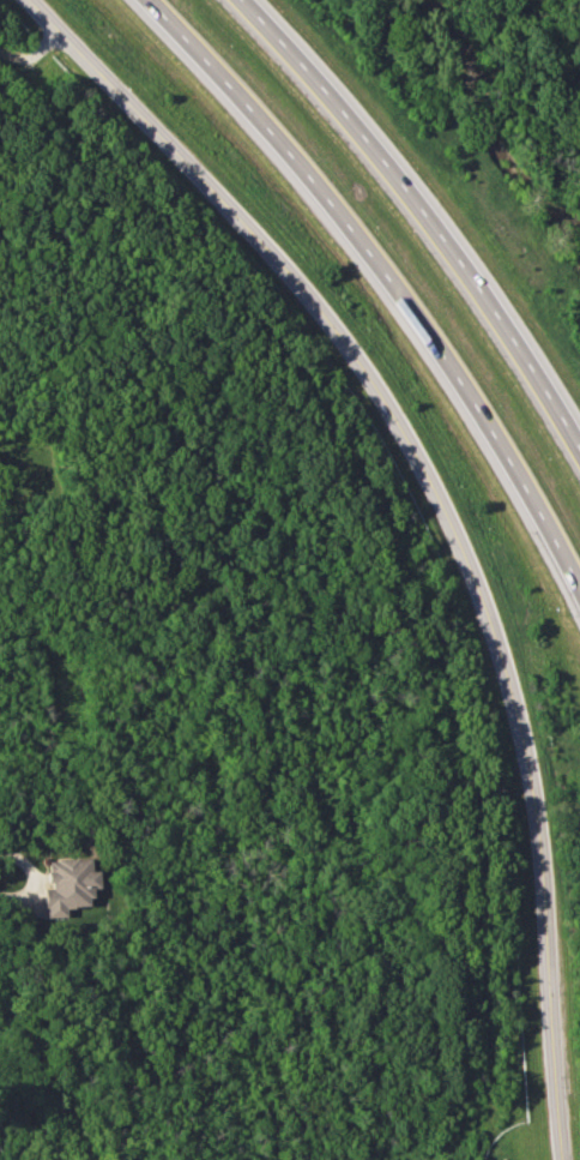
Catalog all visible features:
road: (34, 54)
road: (428, 211)
road: (386, 280)
road: (446, 511)
road: (35, 871)
building: (68, 884)

